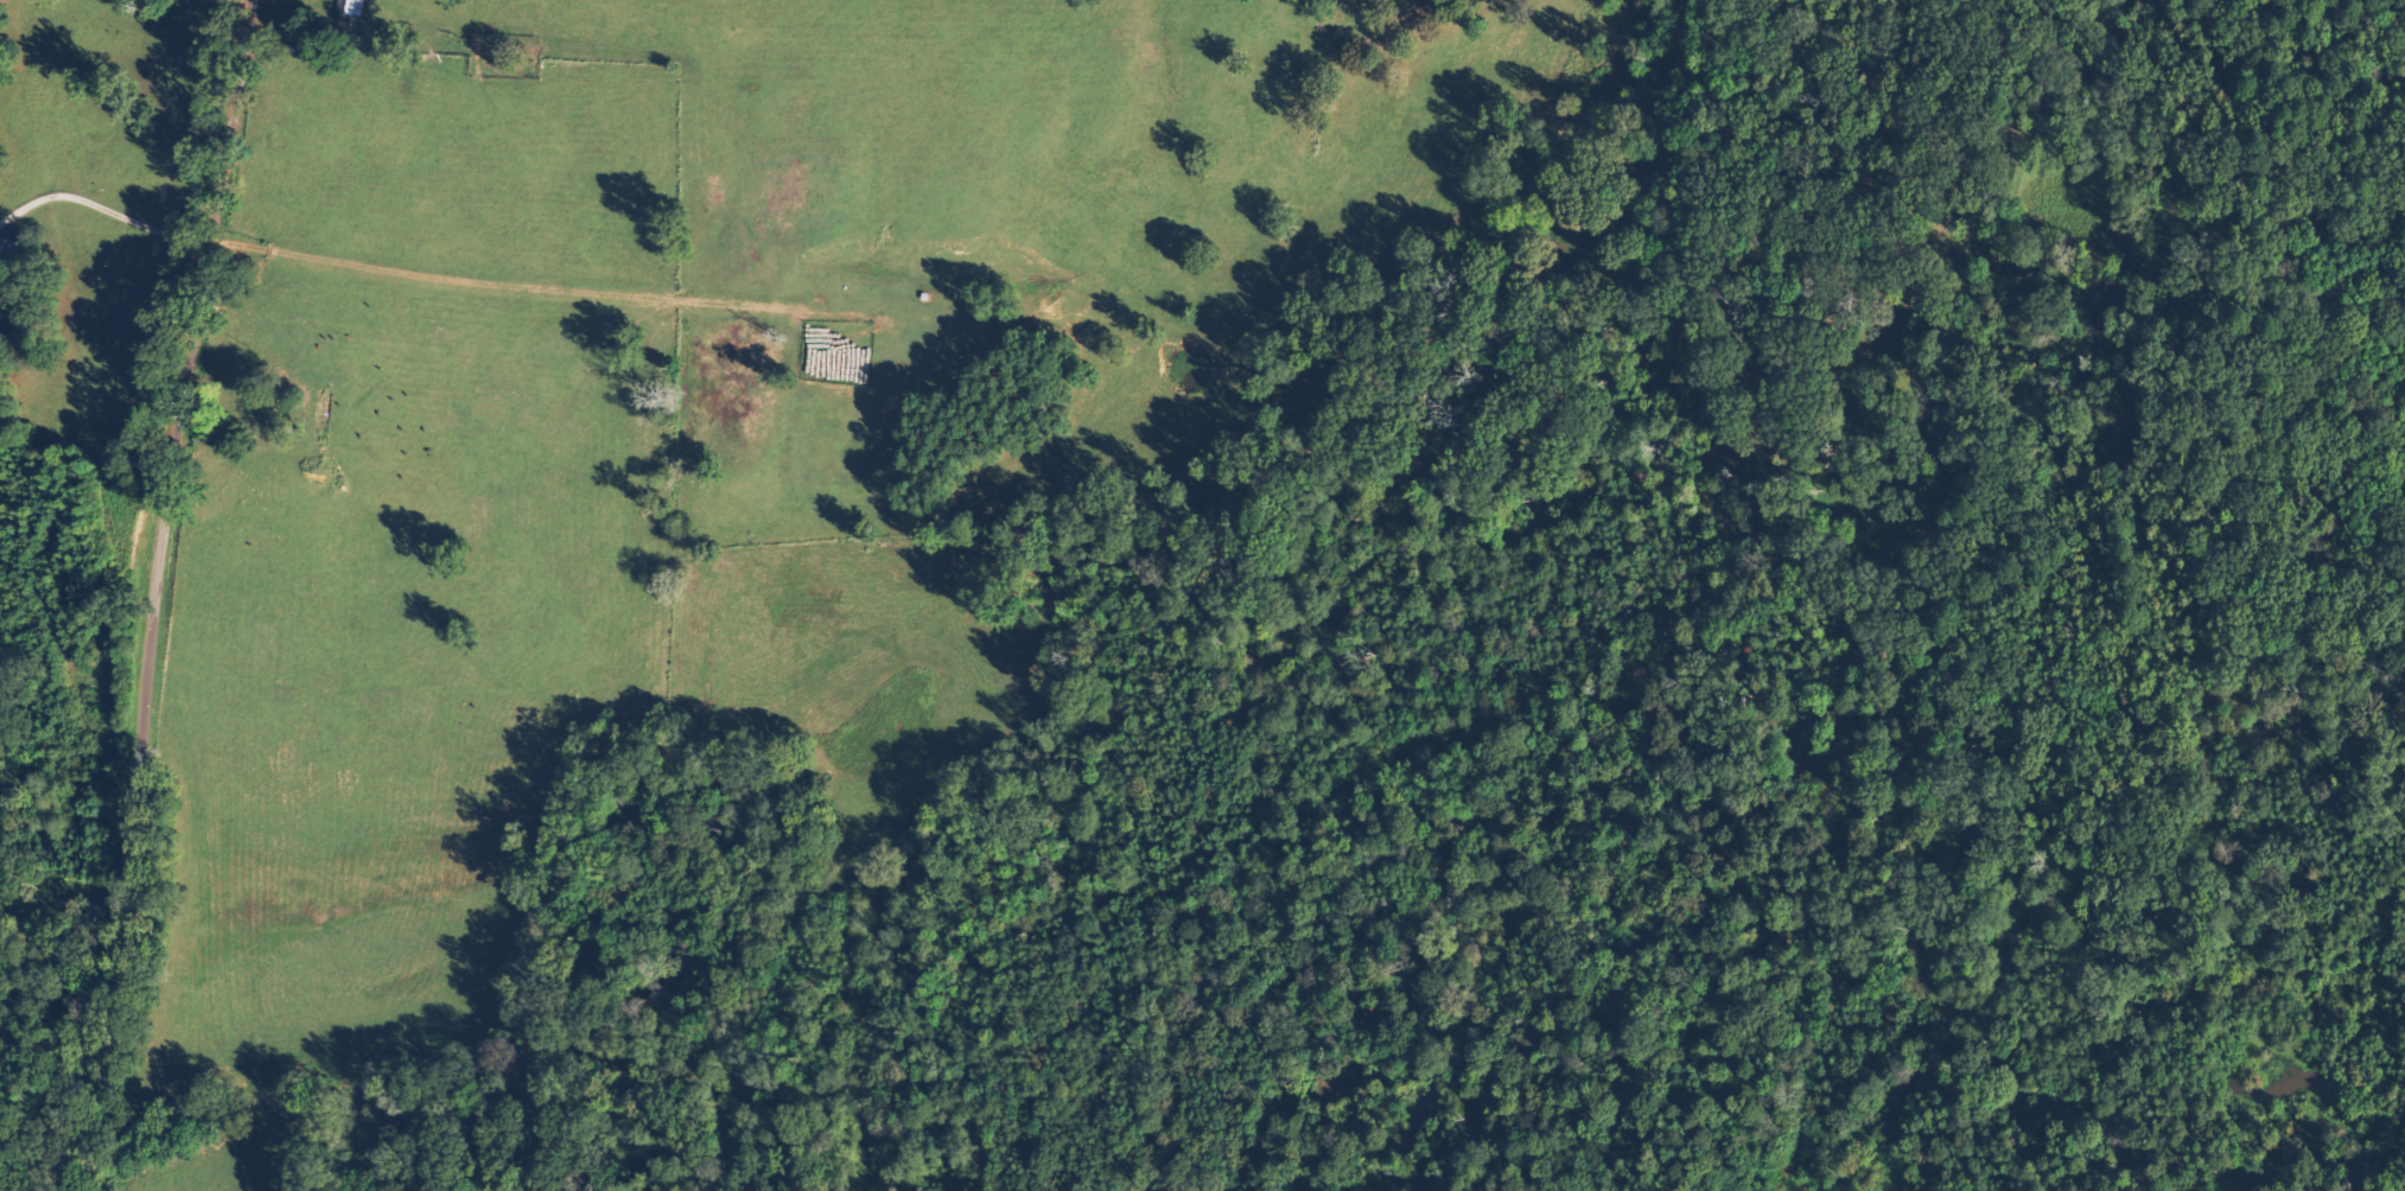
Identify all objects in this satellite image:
building: (360, 6)
road: (157, 598)

